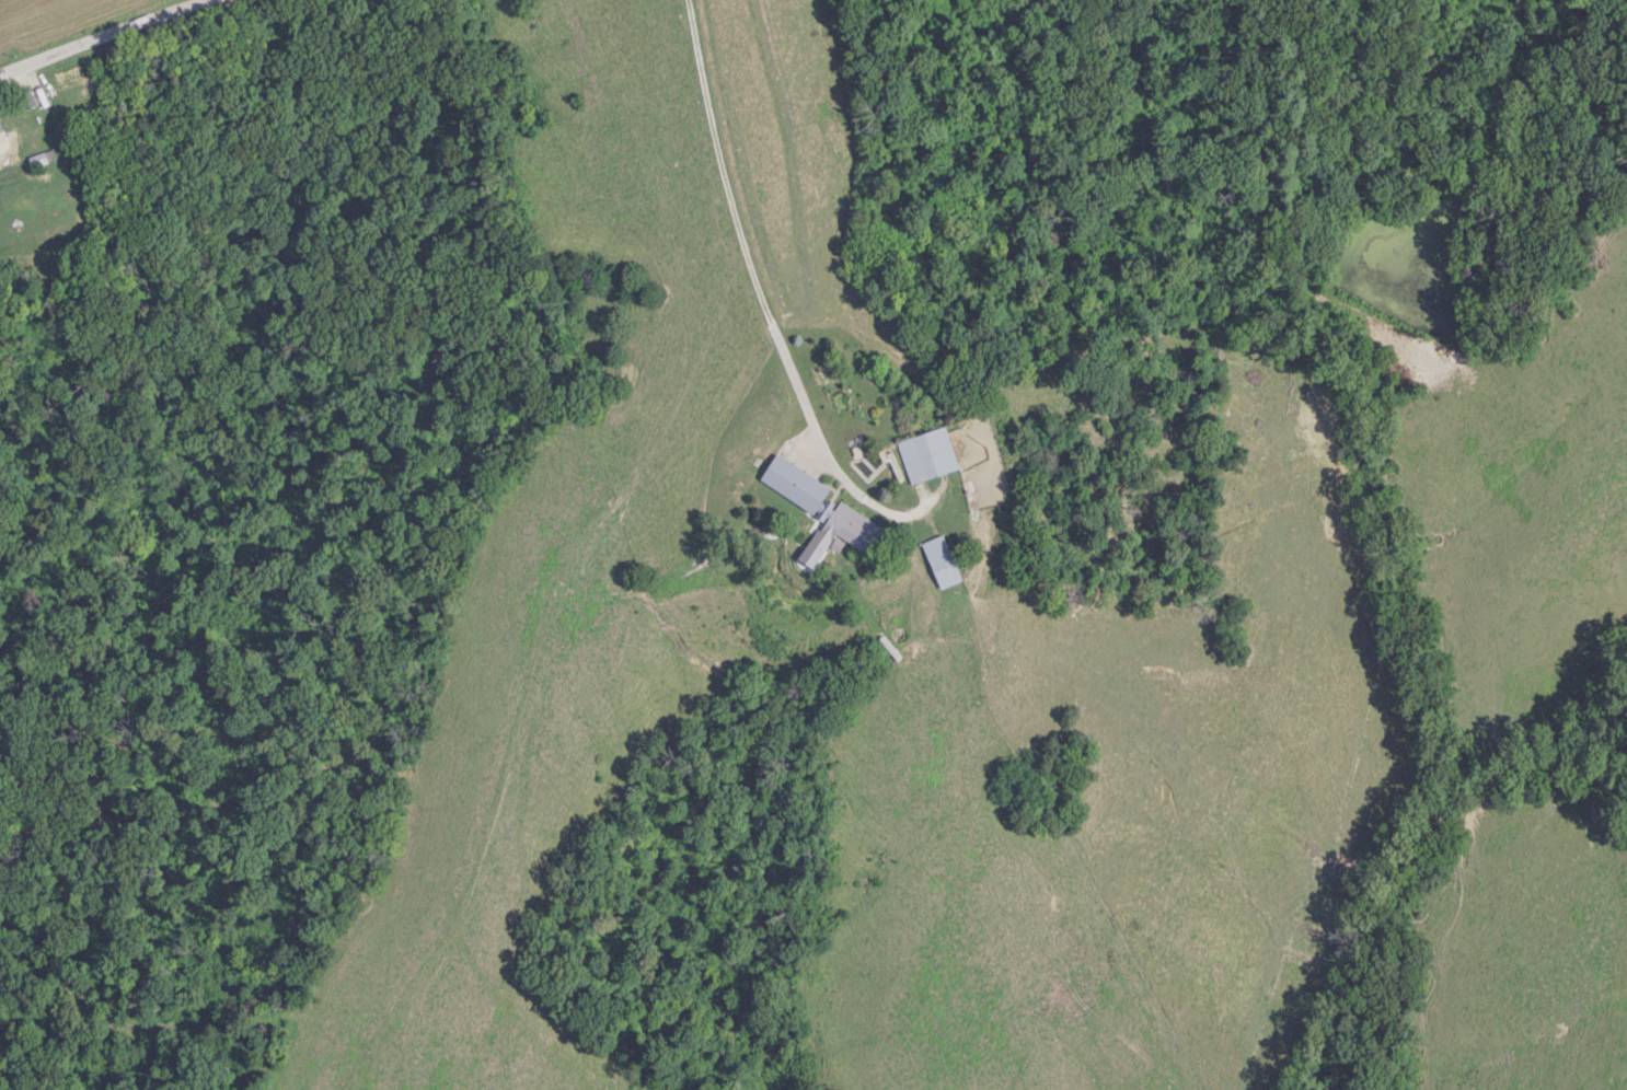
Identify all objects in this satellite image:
road: (96, 33)
building: (26, 96)
building: (1, 126)
building: (50, 152)
building: (38, 158)
road: (742, 233)
building: (927, 453)
building: (821, 502)
building: (942, 559)

